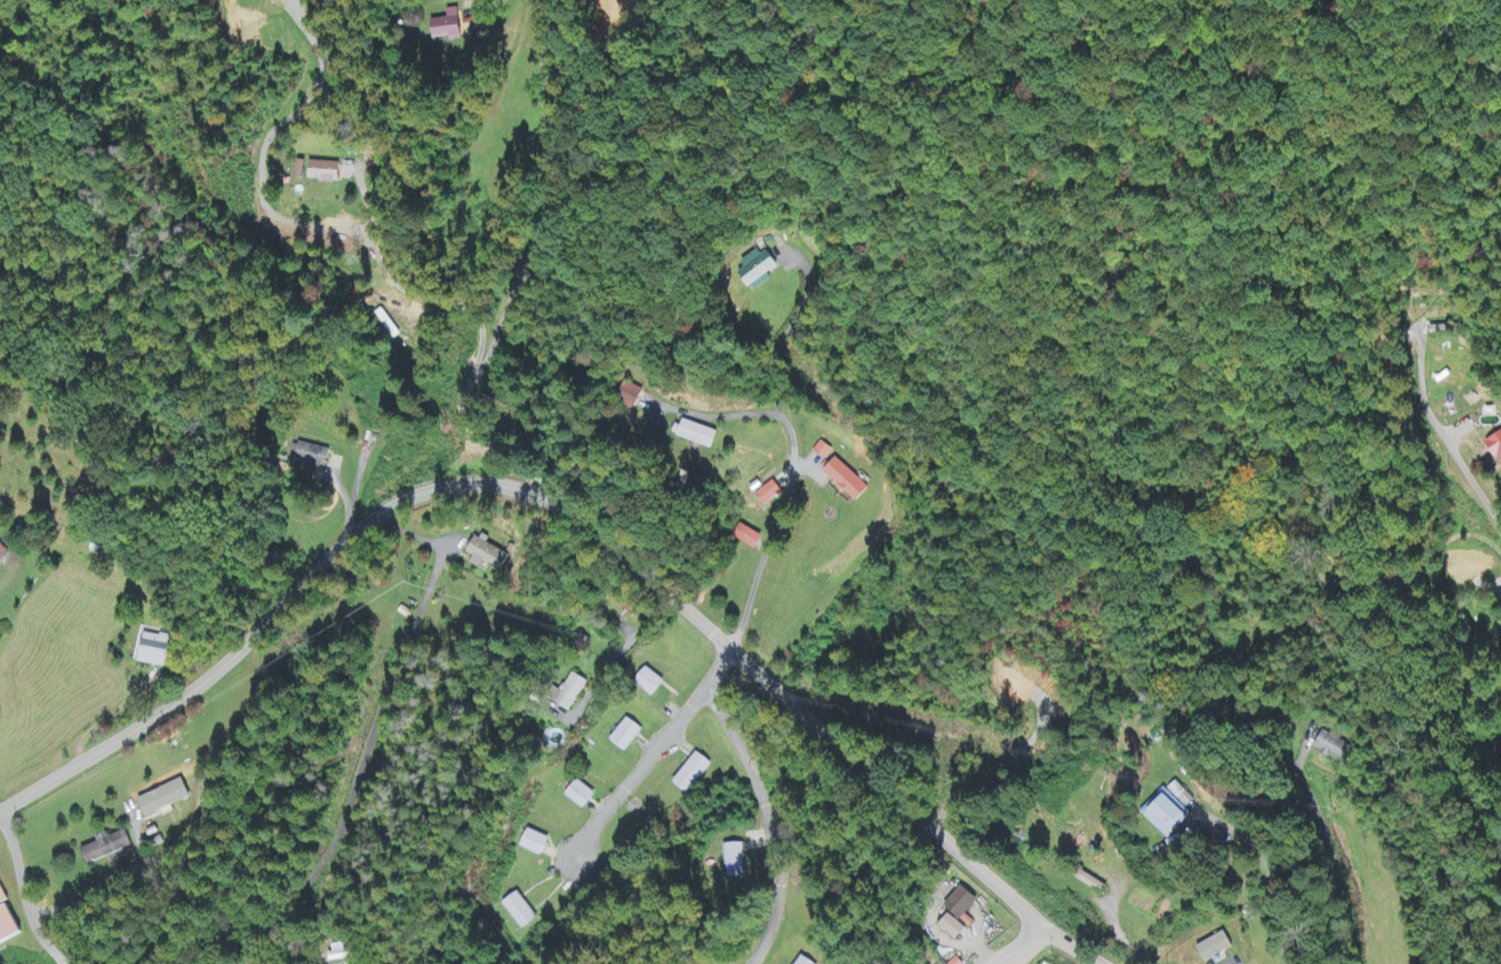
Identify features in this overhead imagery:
building: (449, 27)
road: (547, 124)
building: (325, 172)
road: (545, 252)
building: (758, 270)
building: (632, 397)
building: (699, 435)
building: (1497, 446)
building: (824, 451)
building: (312, 455)
road: (789, 469)
road: (1472, 478)
building: (849, 481)
building: (771, 494)
road: (575, 515)
building: (748, 538)
building: (487, 555)
building: (4, 556)
road: (1496, 587)
building: (155, 650)
building: (651, 683)
building: (576, 689)
building: (628, 735)
building: (1332, 747)
road: (657, 749)
building: (694, 774)
building: (582, 796)
building: (166, 800)
building: (1168, 815)
road: (766, 819)
building: (537, 844)
building: (736, 862)
road: (19, 874)
road: (1264, 879)
building: (1093, 882)
building: (963, 903)
building: (521, 912)
building: (9, 923)
building: (954, 928)
road: (1018, 946)
building: (1217, 947)
road: (53, 952)
building: (342, 953)
building: (806, 961)

